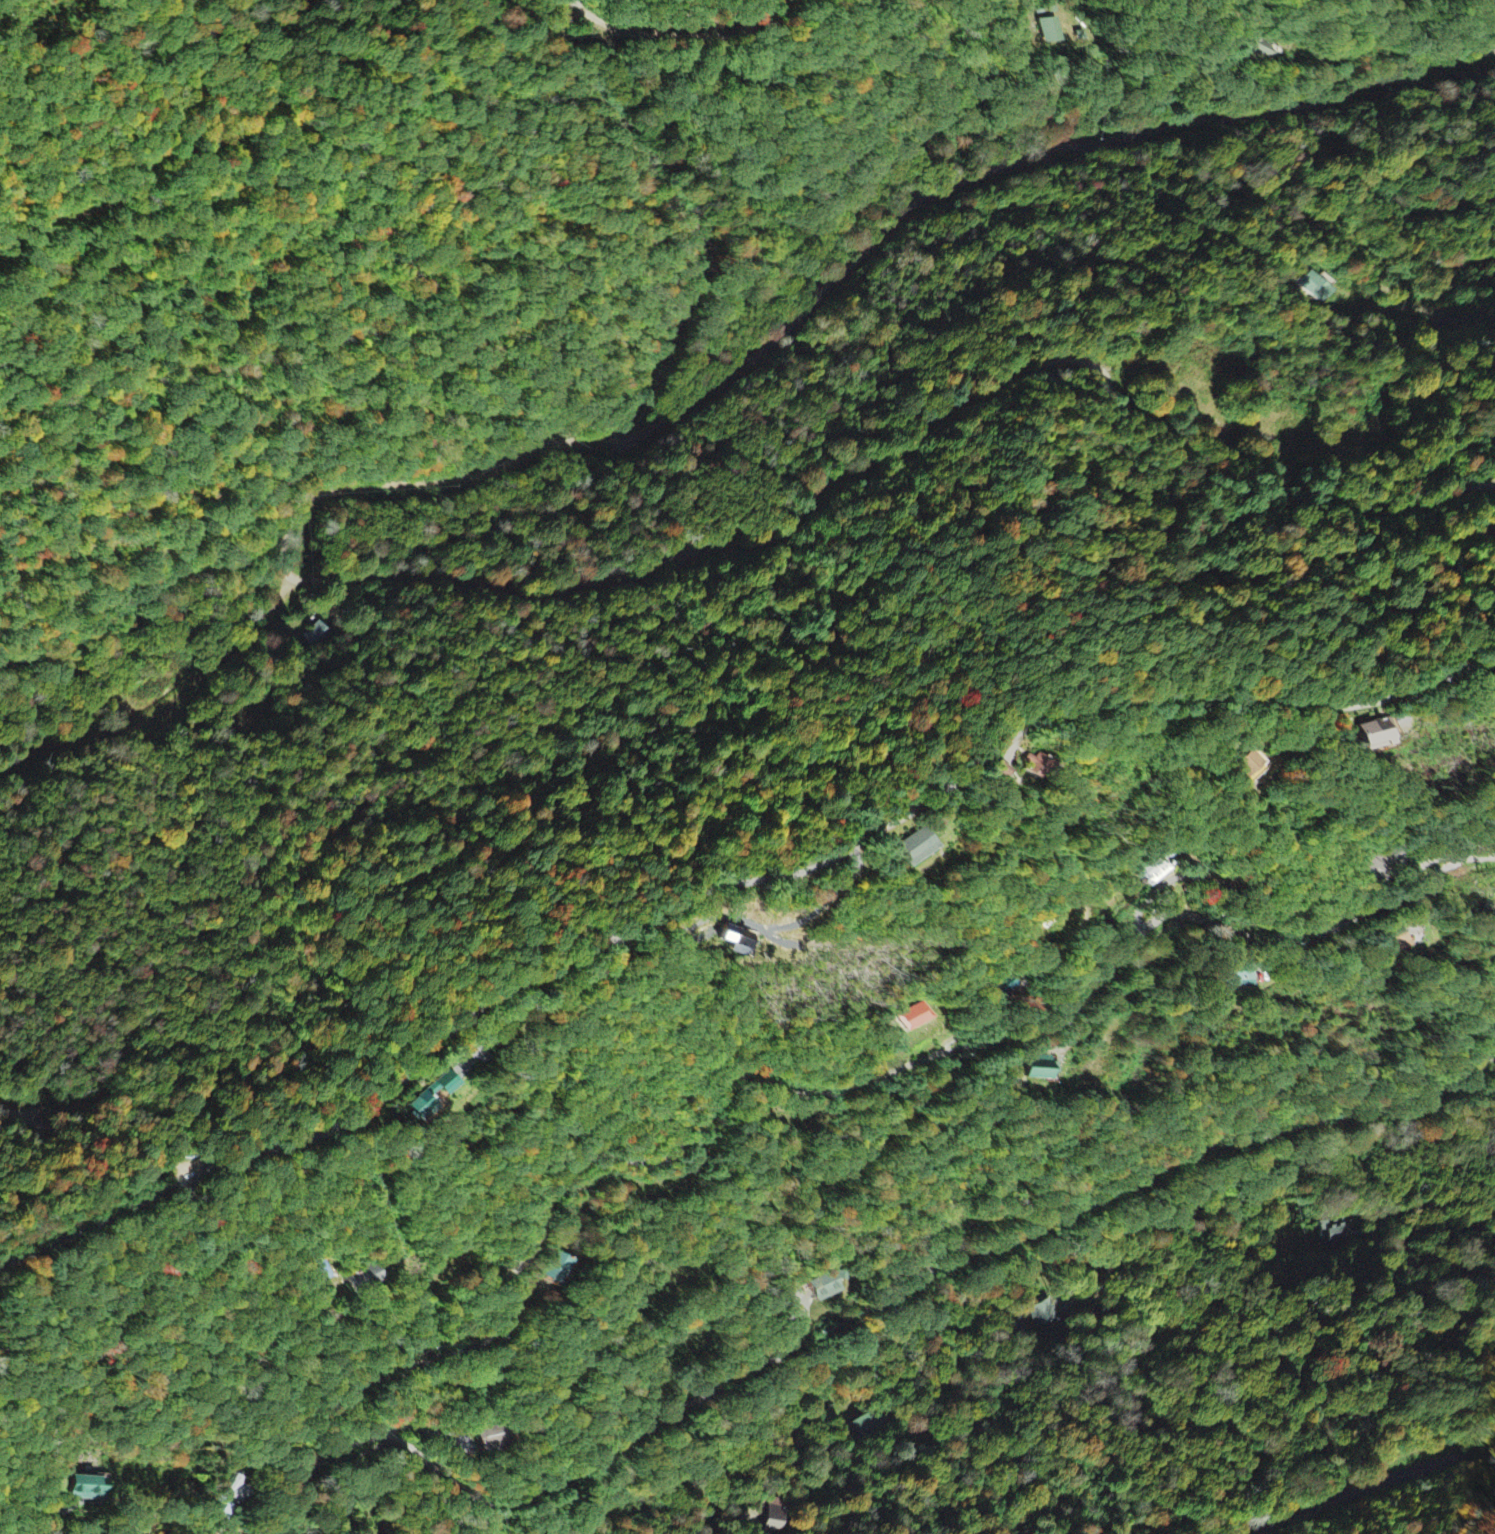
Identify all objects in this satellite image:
building: (1051, 31)
building: (1259, 50)
road: (505, 113)
road: (1239, 148)
road: (800, 220)
building: (1317, 286)
road: (857, 419)
road: (264, 520)
road: (197, 576)
road: (106, 652)
building: (1371, 733)
building: (1251, 767)
building: (982, 772)
building: (932, 846)
building: (1374, 869)
building: (1157, 870)
road: (638, 926)
building: (745, 946)
building: (914, 1018)
building: (1037, 1069)
road: (822, 1092)
road: (852, 1317)
road: (1376, 1485)
building: (81, 1488)

